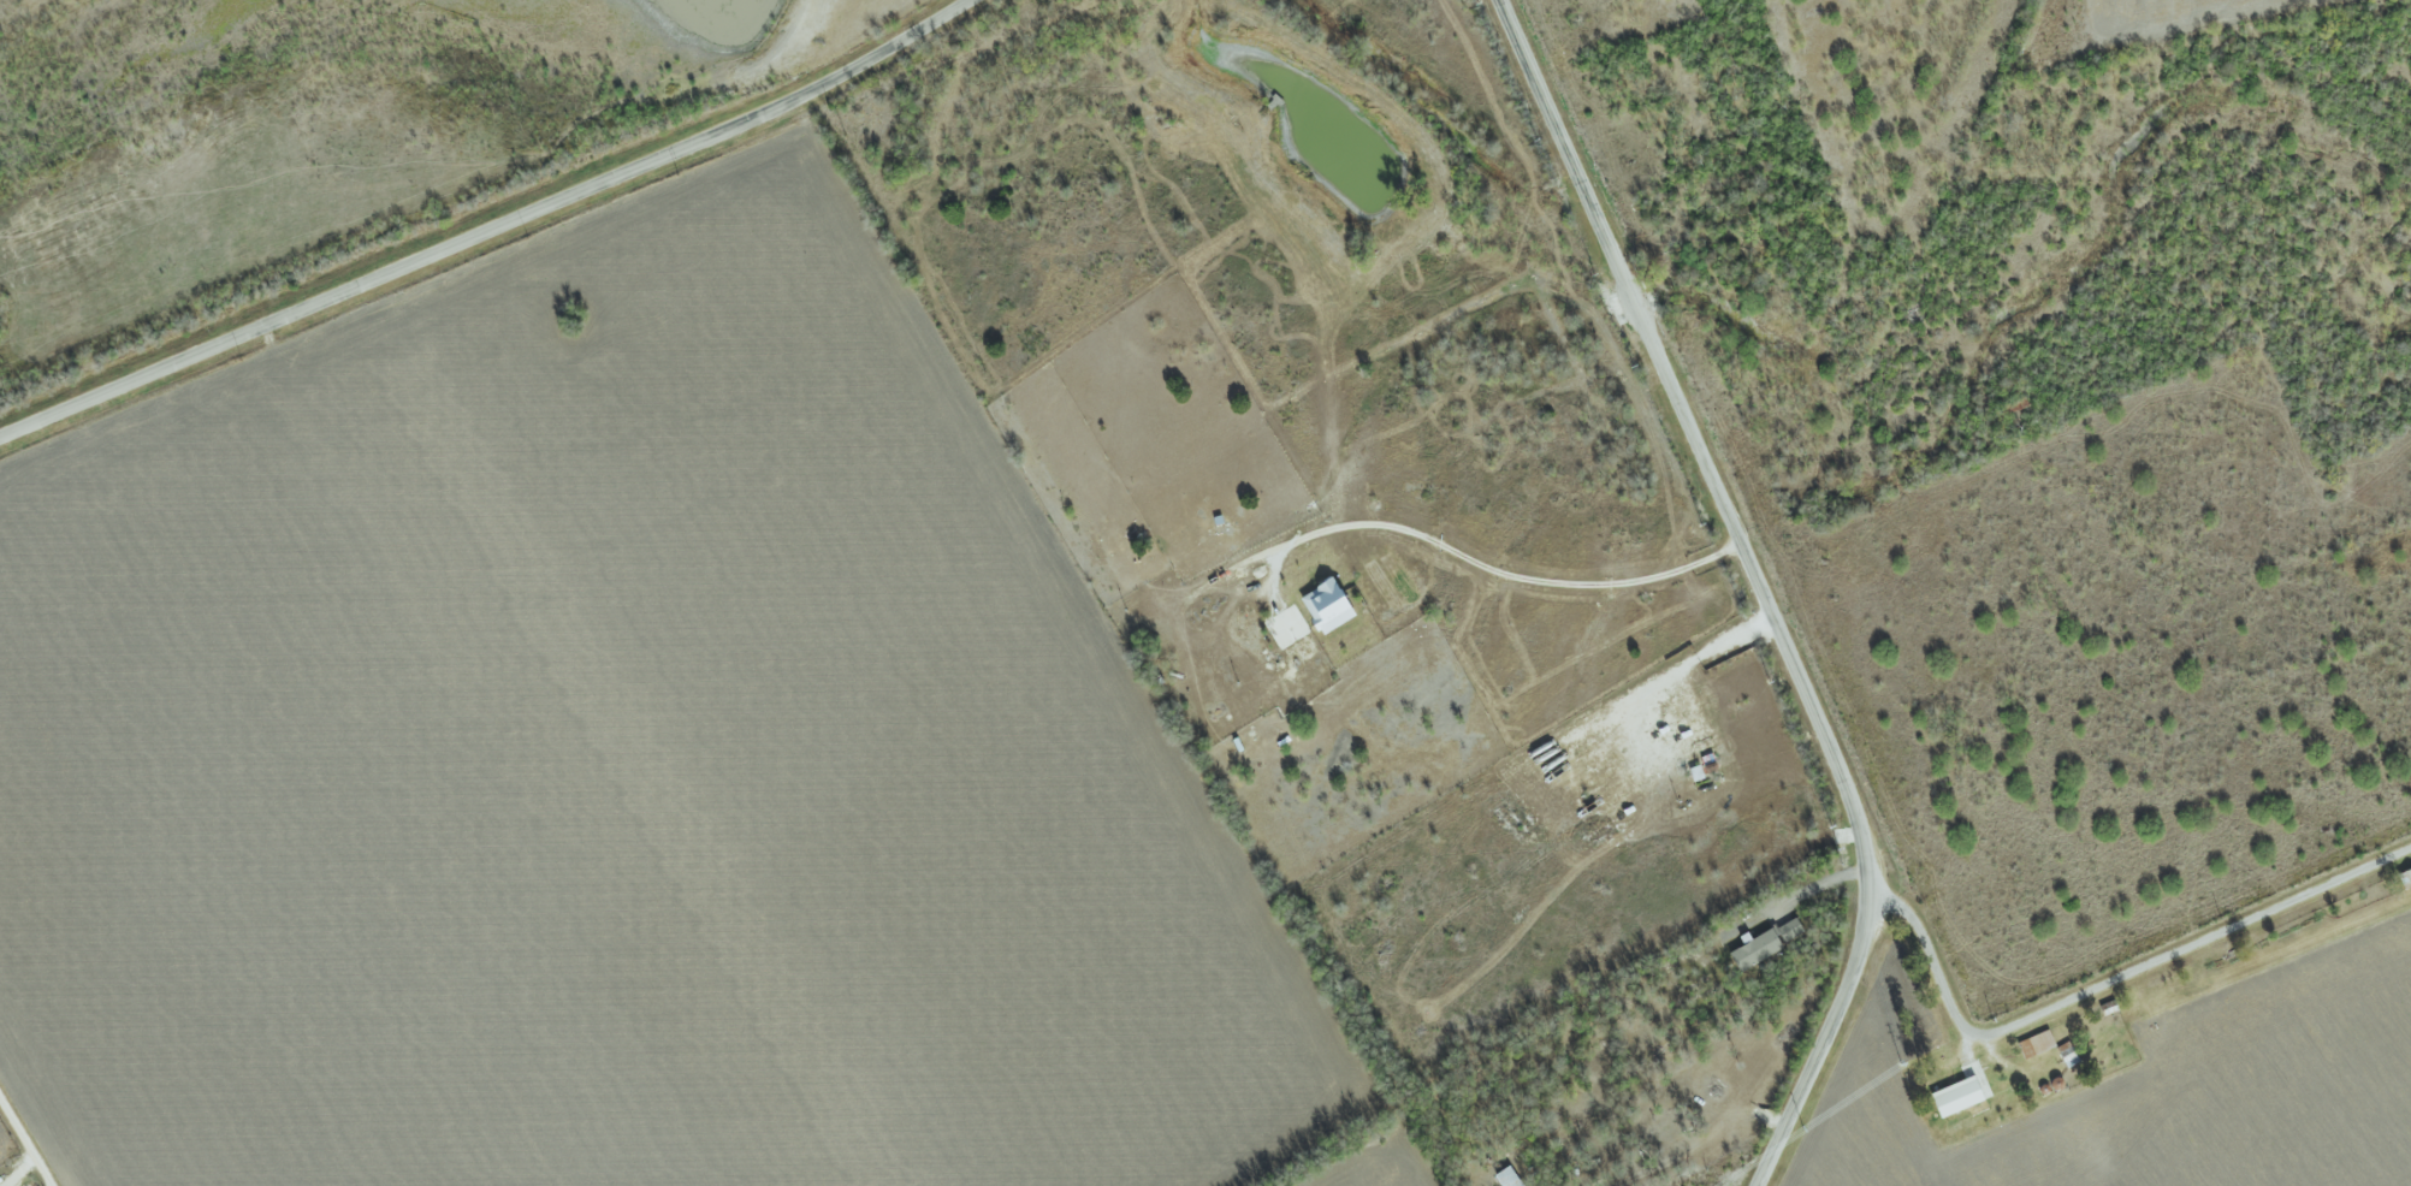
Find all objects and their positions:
road: (491, 231)
road: (1505, 581)
road: (1760, 587)
road: (1688, 662)
road: (1795, 899)
building: (1763, 945)
road: (2105, 986)
building: (2033, 1044)
building: (1954, 1098)
road: (25, 1140)
road: (17, 1170)

